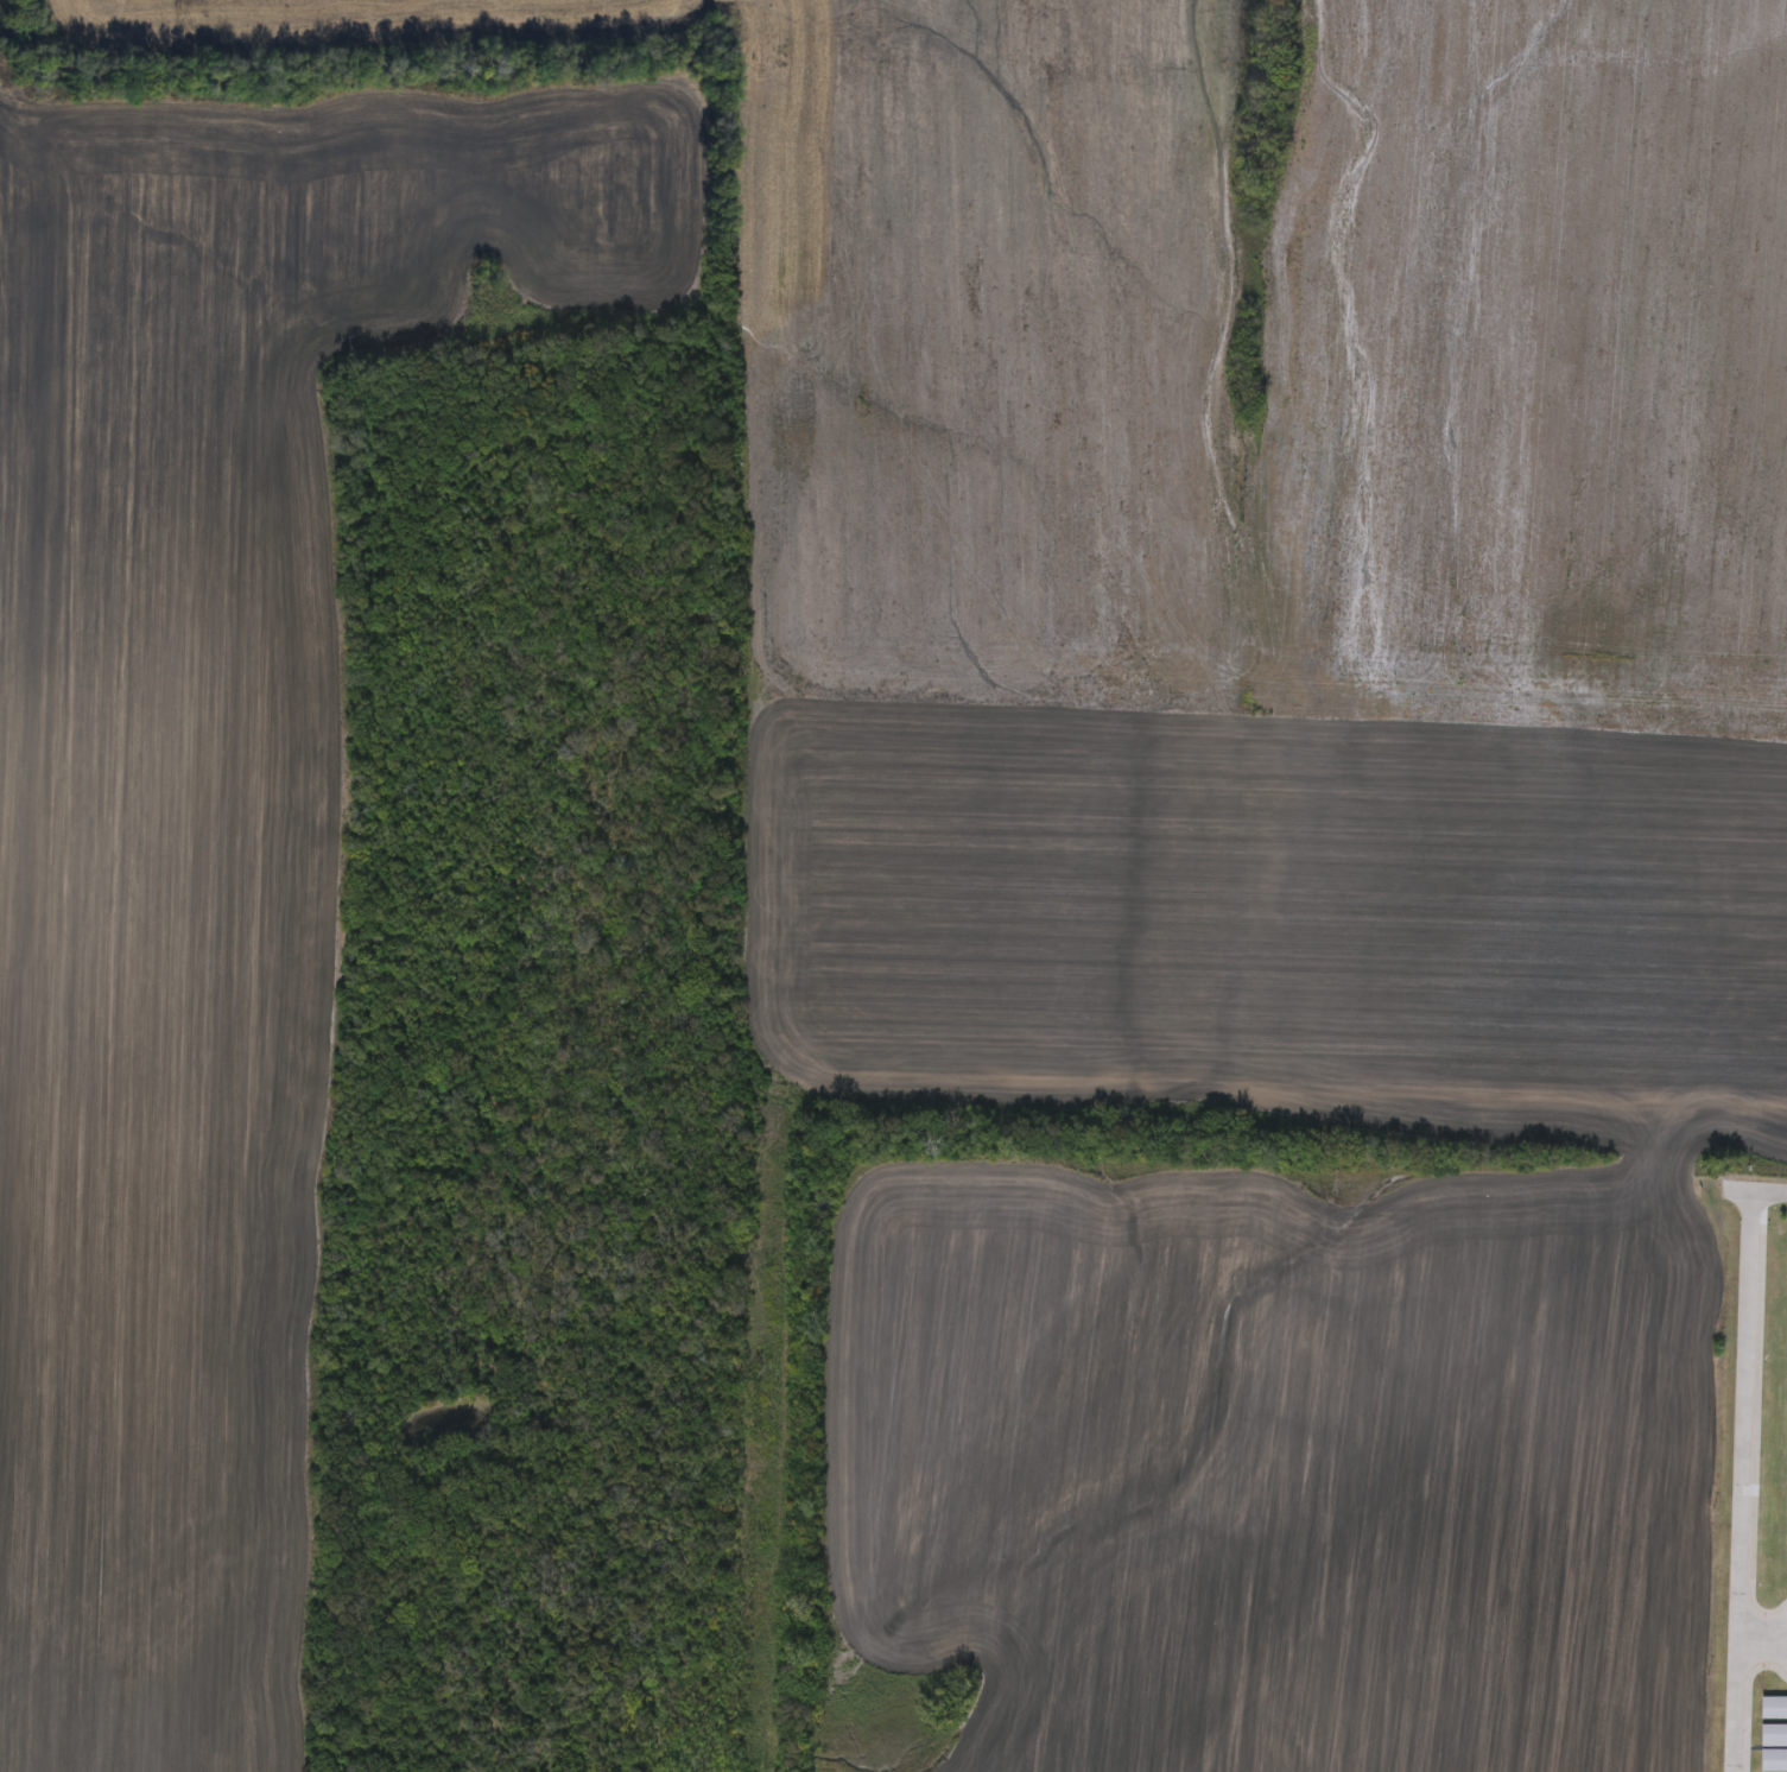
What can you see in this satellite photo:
road: (1770, 1201)
road: (1744, 1486)
road: (1763, 1644)

